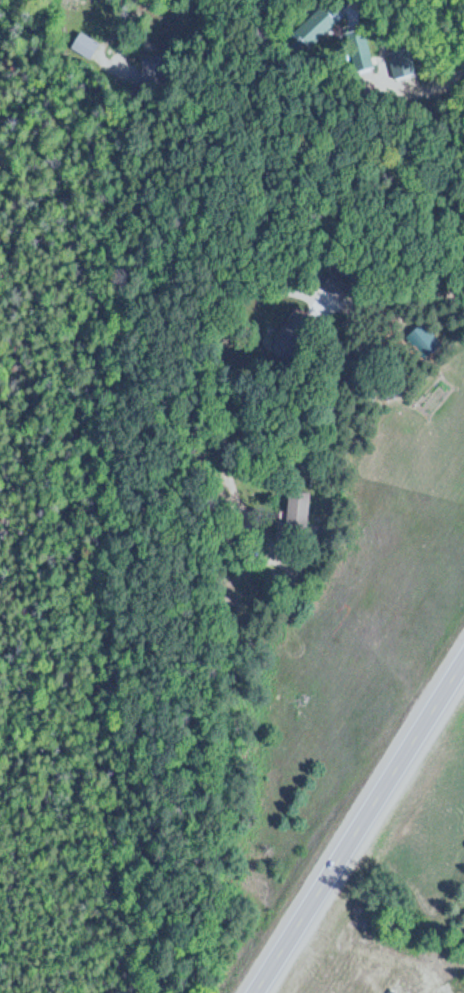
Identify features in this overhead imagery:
building: (315, 27)
building: (289, 337)
building: (421, 340)
building: (299, 508)
road: (362, 828)

